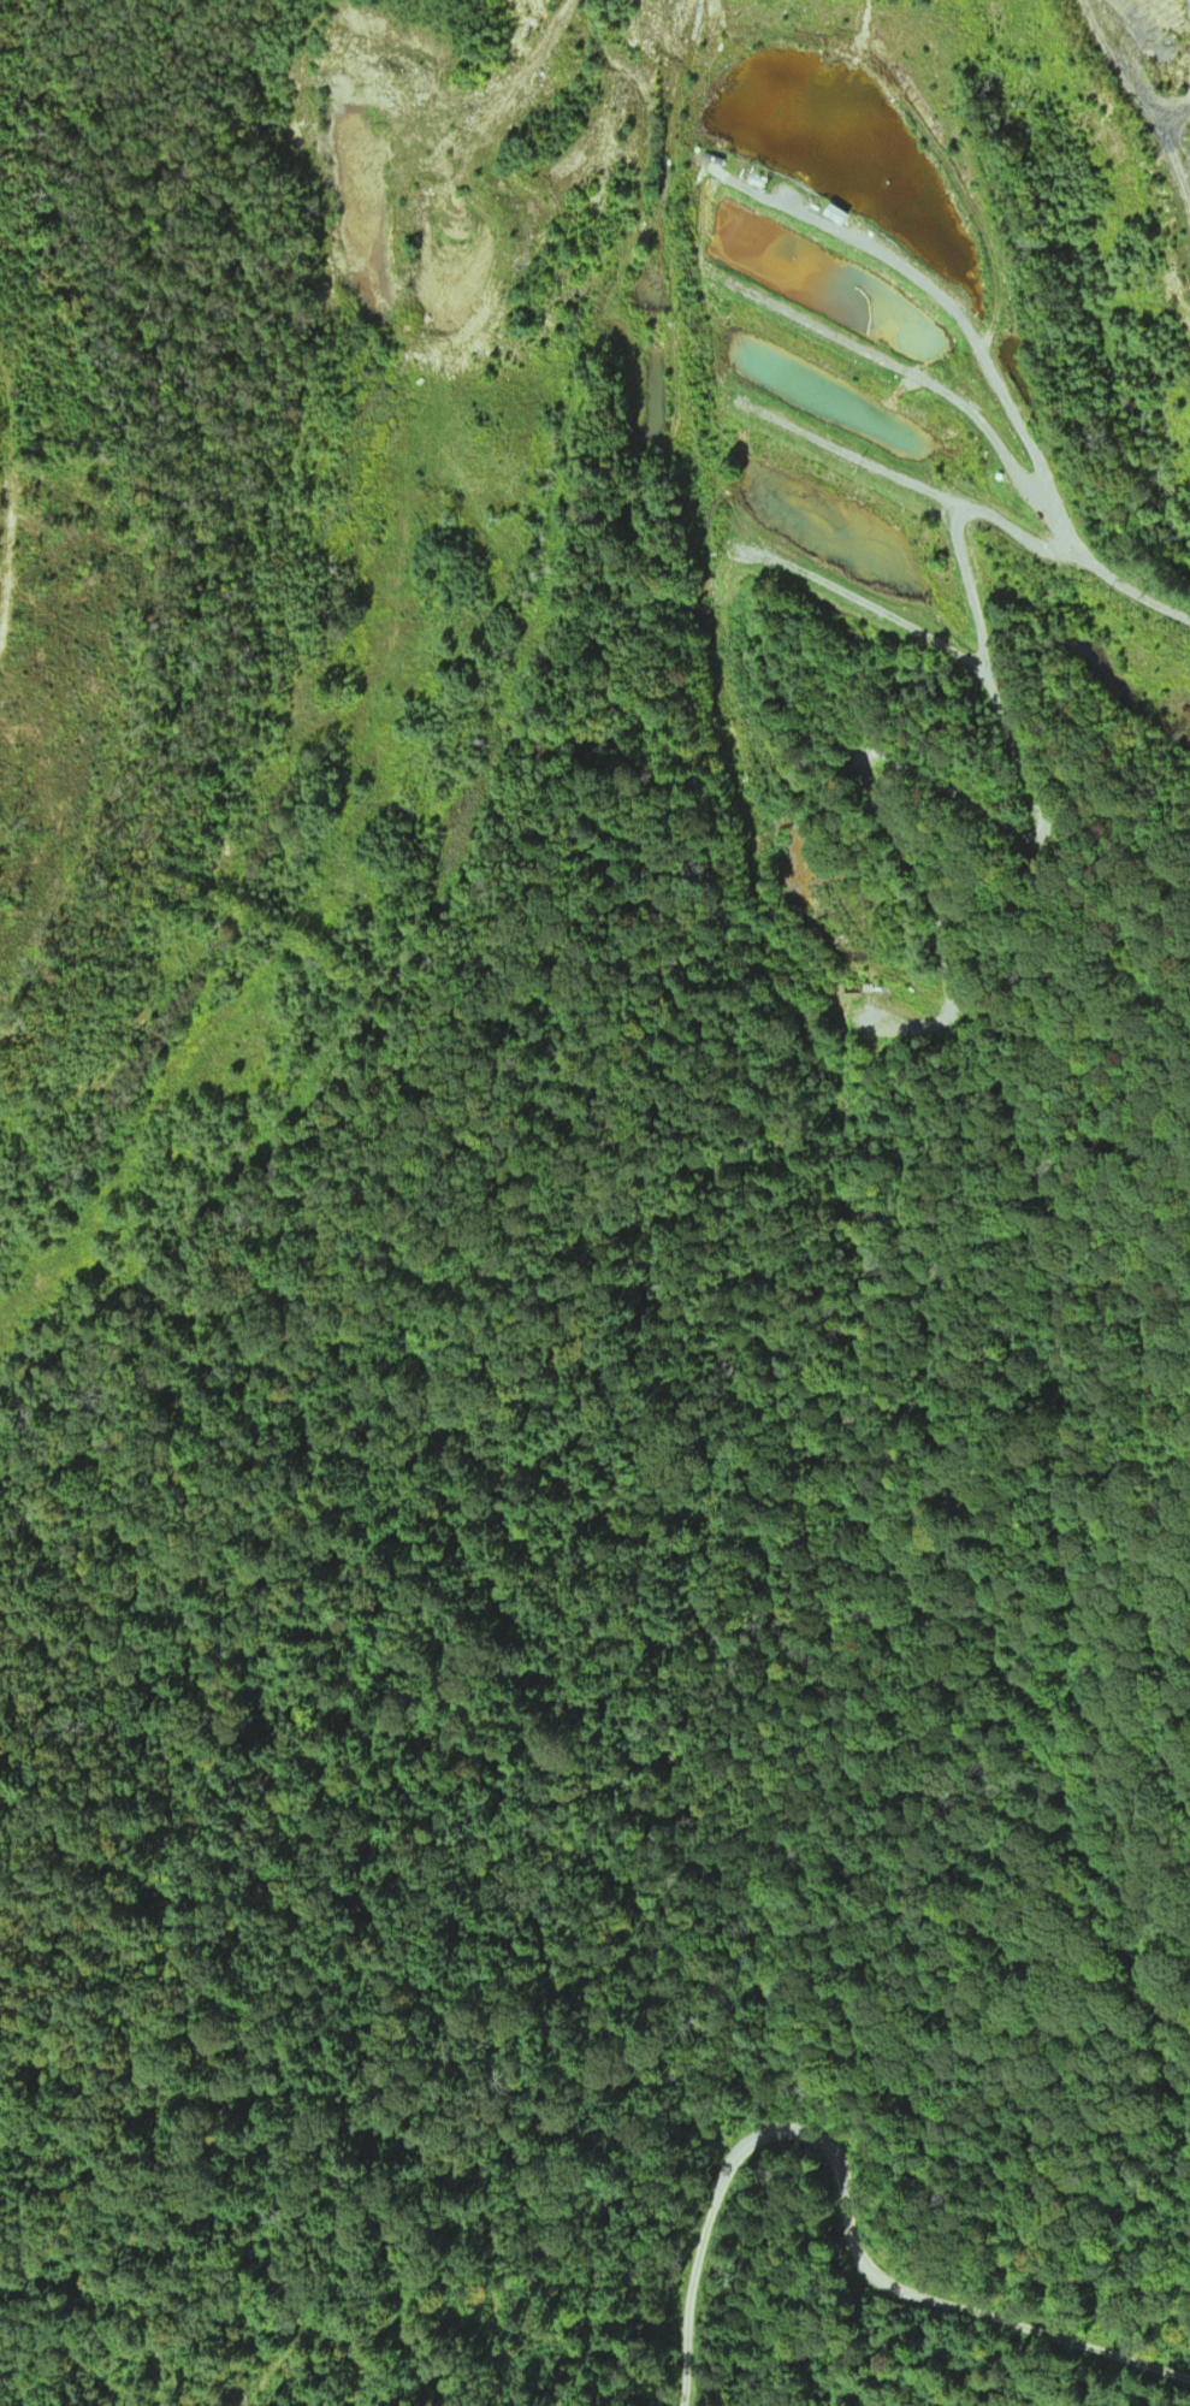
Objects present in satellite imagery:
road: (558, 816)

